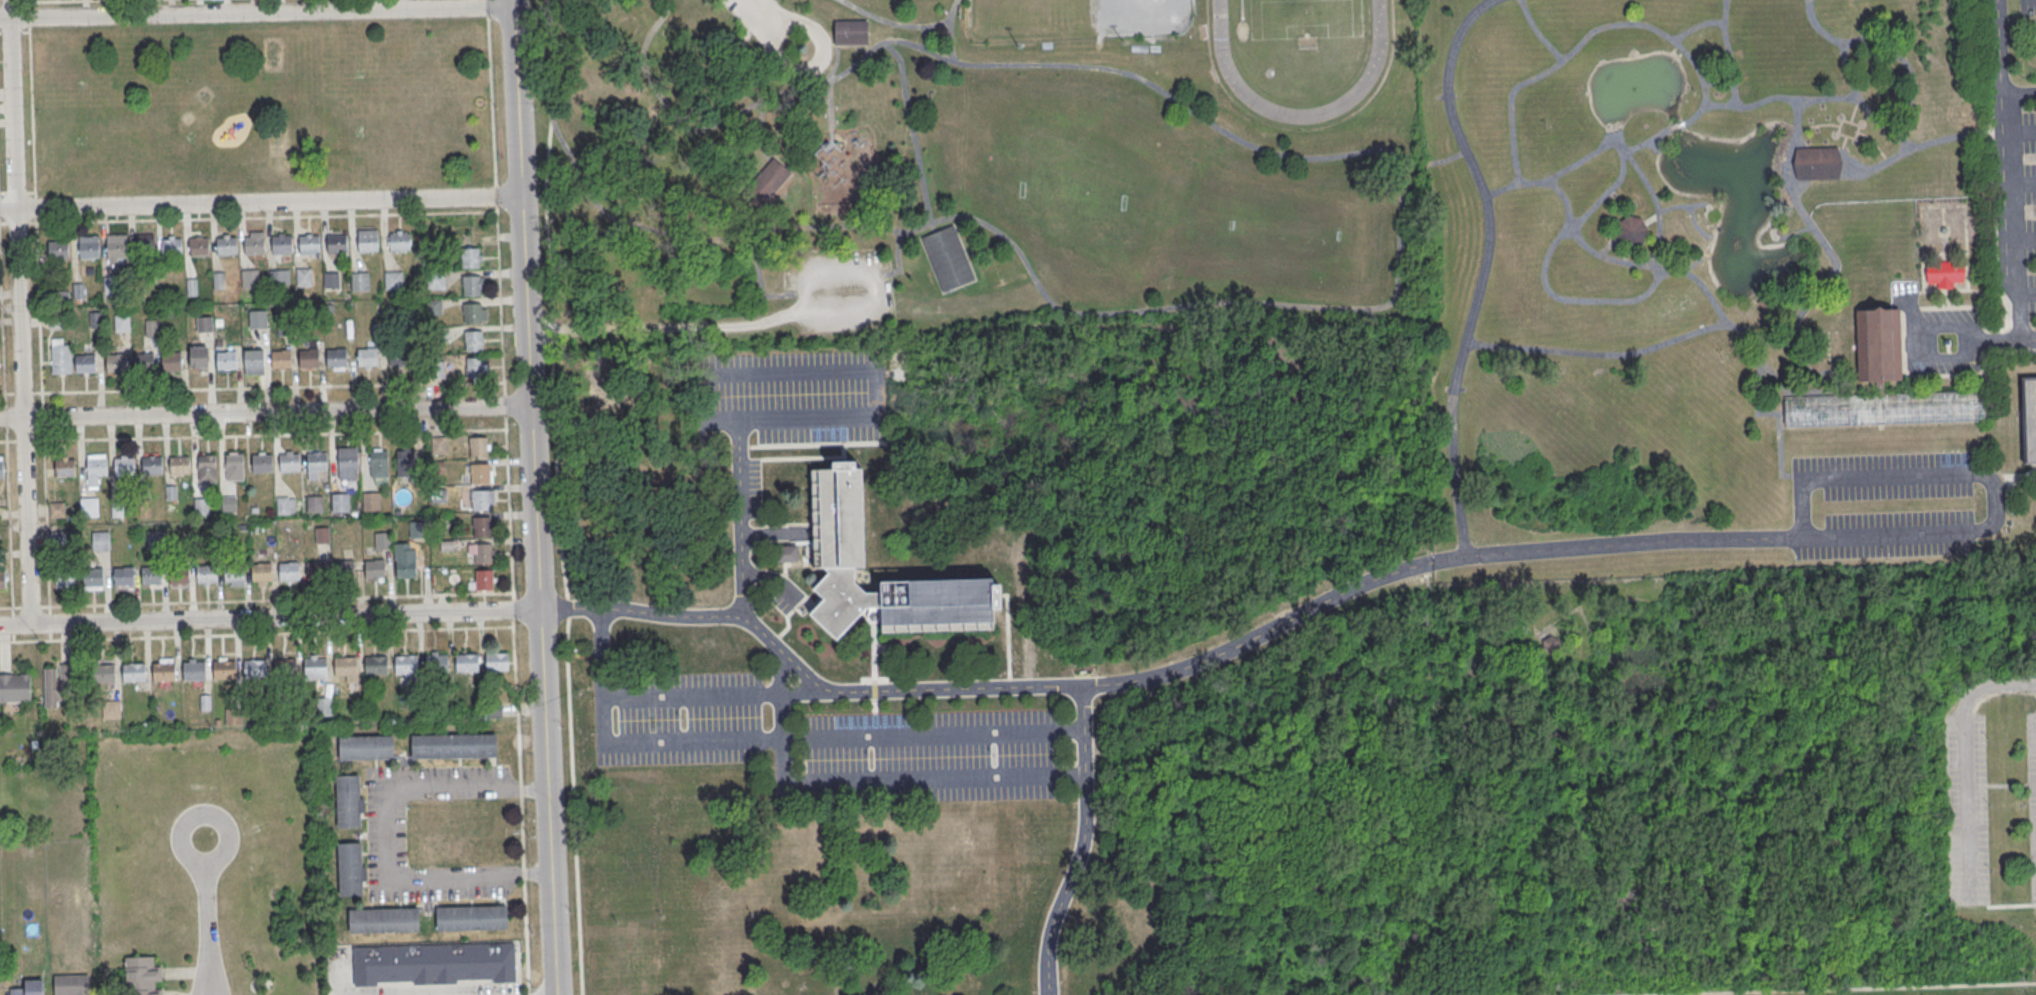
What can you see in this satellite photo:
road: (52, 1)
road: (487, 8)
road: (758, 8)
parking lot: (750, 11)
road: (28, 12)
road: (256, 13)
park: (1073, 18)
park: (1303, 18)
park: (1081, 22)
road: (904, 23)
road: (1631, 23)
road: (1697, 24)
road: (13, 31)
road: (1537, 32)
building: (851, 34)
road: (922, 36)
road: (949, 39)
road: (1882, 47)
track: (1299, 50)
road: (1727, 52)
track: (1373, 63)
road: (817, 68)
road: (1717, 83)
road: (755, 84)
road: (2018, 85)
road: (828, 88)
road: (1779, 95)
road: (491, 100)
road: (1862, 104)
park: (261, 106)
road: (1853, 109)
road: (30, 111)
road: (1814, 123)
road: (1675, 125)
road: (909, 128)
road: (2019, 129)
road: (1612, 136)
road: (1852, 136)
road: (1513, 139)
road: (1645, 139)
road: (1872, 143)
road: (1653, 144)
road: (1918, 145)
road: (1598, 147)
road: (1841, 149)
road: (1434, 162)
building: (1817, 163)
park: (860, 178)
road: (2003, 179)
road: (2020, 179)
park: (1071, 181)
building: (766, 183)
road: (2, 193)
road: (16, 193)
road: (30, 193)
road: (495, 195)
parking lot: (2030, 200)
road: (259, 203)
road: (1654, 203)
road: (1678, 206)
road: (247, 217)
building: (1631, 231)
road: (1701, 232)
park: (1265, 234)
road: (1791, 235)
road: (2020, 237)
building: (368, 241)
building: (399, 242)
building: (309, 244)
building: (336, 244)
building: (281, 245)
building: (198, 246)
building: (226, 246)
building: (254, 246)
building: (171, 247)
road: (1608, 247)
building: (115, 248)
building: (143, 248)
building: (89, 249)
building: (57, 250)
road: (1828, 250)
road: (1610, 257)
building: (470, 258)
building: (947, 258)
road: (898, 260)
road: (1695, 264)
road: (1483, 268)
building: (1946, 273)
building: (279, 276)
building: (303, 277)
building: (249, 279)
building: (219, 281)
building: (331, 281)
building: (358, 281)
building: (392, 281)
building: (435, 281)
road: (758, 283)
building: (110, 285)
building: (472, 285)
building: (192, 288)
parking lot: (841, 291)
road: (2027, 294)
road: (1591, 298)
road: (499, 300)
road: (1389, 301)
road: (524, 304)
road: (19, 311)
building: (472, 313)
road: (776, 317)
building: (255, 319)
building: (95, 320)
building: (204, 322)
building: (284, 322)
building: (121, 323)
building: (150, 328)
road: (1697, 330)
road: (1774, 340)
building: (473, 341)
building: (1877, 344)
building: (1828, 349)
building: (60, 355)
building: (199, 356)
building: (367, 356)
building: (398, 356)
building: (336, 357)
road: (552, 357)
building: (308, 358)
building: (281, 359)
building: (225, 360)
building: (171, 361)
building: (254, 361)
building: (115, 362)
building: (143, 362)
building: (84, 363)
building: (474, 368)
building: (436, 369)
road: (251, 387)
parking lot: (792, 396)
road: (41, 401)
road: (504, 404)
building: (1884, 408)
road: (265, 412)
building: (2030, 419)
road: (738, 431)
road: (252, 435)
road: (6, 444)
building: (438, 444)
building: (478, 447)
building: (346, 460)
building: (289, 462)
building: (317, 462)
building: (261, 463)
building: (404, 463)
building: (379, 464)
building: (179, 465)
building: (151, 466)
building: (123, 467)
building: (233, 467)
building: (64, 468)
building: (206, 468)
building: (1, 470)
building: (95, 470)
building: (481, 474)
parking lot: (1889, 474)
building: (171, 493)
building: (480, 501)
building: (339, 502)
building: (371, 502)
building: (228, 504)
building: (314, 504)
building: (285, 505)
road: (508, 506)
building: (201, 507)
building: (88, 508)
building: (144, 508)
building: (56, 510)
building: (116, 510)
building: (837, 518)
building: (482, 527)
building: (321, 535)
parking lot: (1890, 535)
road: (1681, 537)
building: (56, 539)
building: (154, 540)
building: (100, 541)
building: (382, 541)
building: (483, 553)
building: (786, 554)
building: (405, 561)
building: (343, 569)
building: (374, 569)
building: (316, 570)
building: (288, 571)
building: (261, 572)
building: (233, 573)
building: (205, 574)
building: (150, 575)
building: (178, 575)
building: (123, 576)
building: (92, 577)
building: (2, 579)
building: (64, 580)
building: (484, 580)
road: (256, 600)
road: (566, 607)
road: (512, 612)
road: (270, 617)
road: (49, 623)
road: (12, 624)
road: (1588, 629)
road: (255, 634)
road: (1543, 634)
building: (1549, 644)
road: (1491, 650)
road: (601, 654)
building: (496, 662)
building: (466, 663)
building: (436, 664)
building: (406, 665)
building: (345, 666)
building: (375, 666)
building: (314, 667)
building: (284, 668)
building: (254, 669)
building: (224, 670)
building: (193, 671)
building: (163, 672)
road: (804, 672)
building: (102, 673)
building: (133, 673)
building: (59, 685)
building: (14, 688)
building: (111, 708)
building: (232, 715)
parking lot: (679, 720)
road: (605, 745)
building: (454, 746)
building: (366, 748)
parking lot: (925, 758)
road: (1964, 760)
road: (780, 761)
parking lot: (2032, 788)
building: (347, 801)
road: (547, 802)
road: (570, 806)
road: (519, 809)
parking lot: (1967, 809)
road: (387, 835)
road: (1082, 843)
building: (350, 869)
road: (207, 915)
building: (472, 919)
building: (384, 921)
building: (434, 963)
building: (142, 976)
building: (71, 985)
building: (29, 987)
road: (1796, 987)
road: (528, 993)

